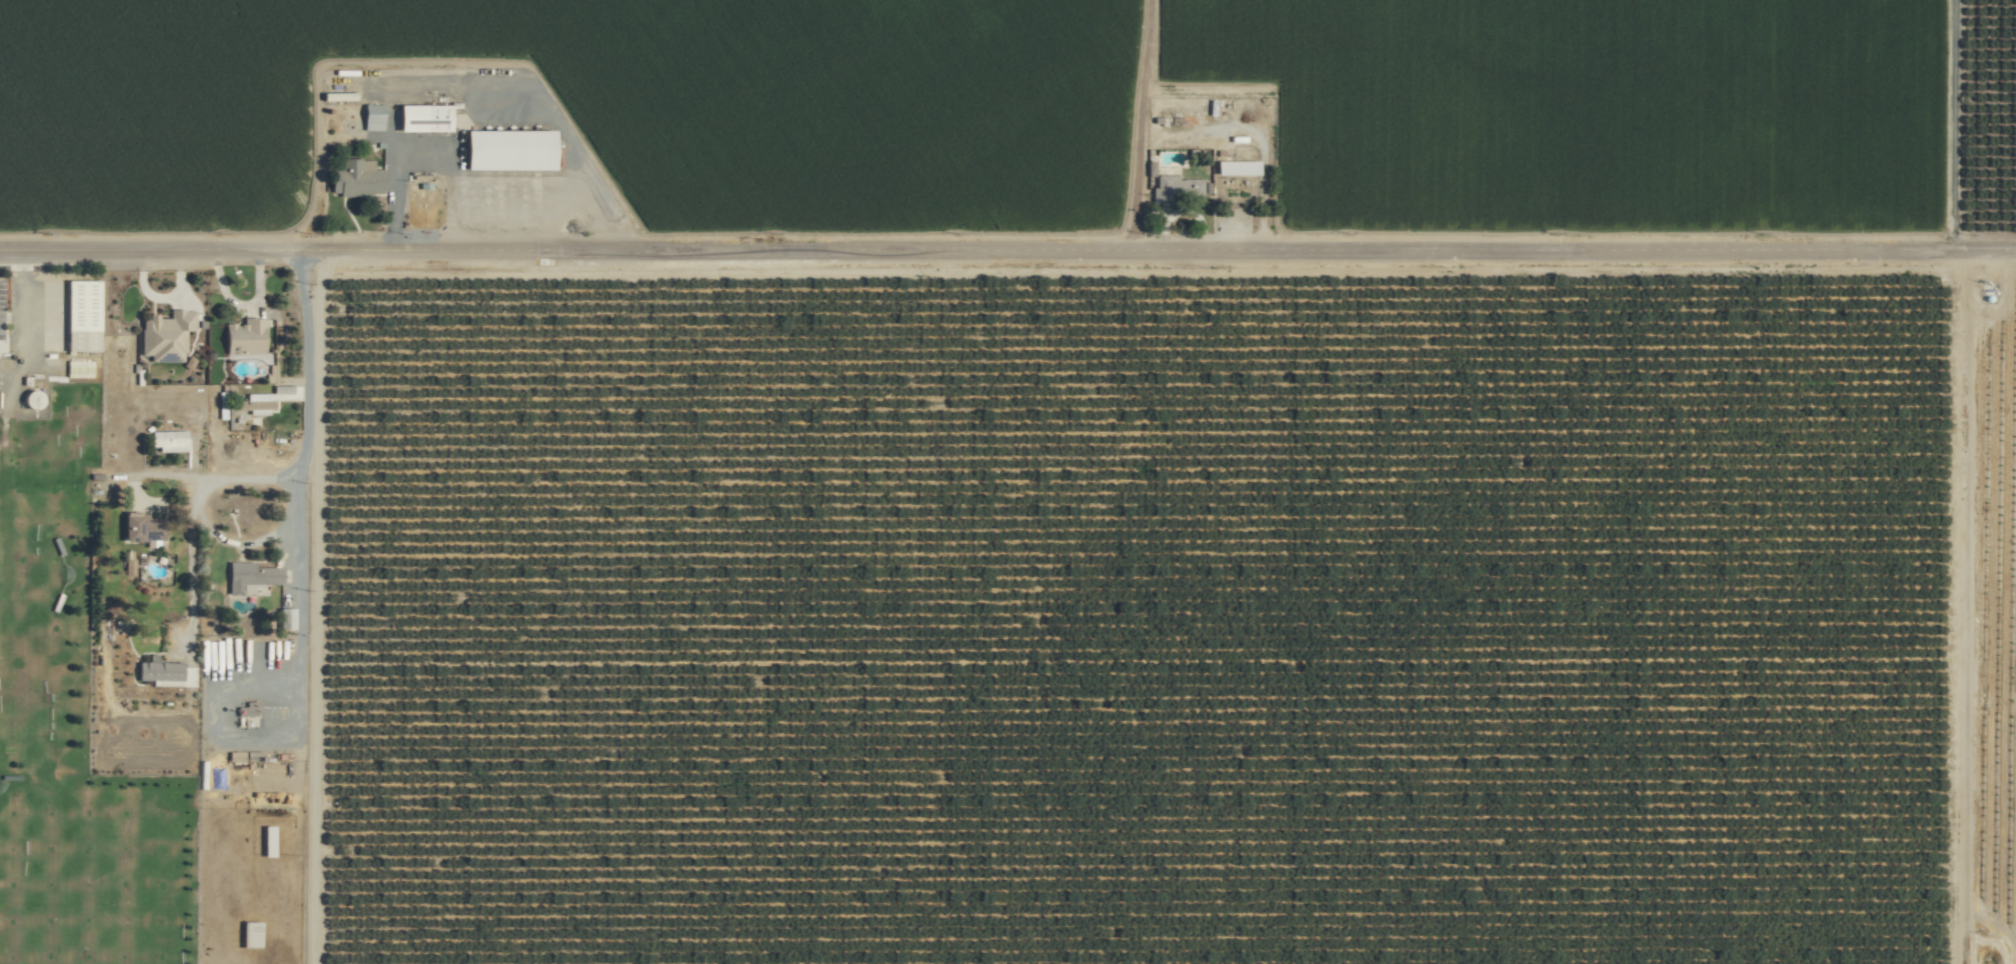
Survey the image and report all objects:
building: (374, 117)
building: (425, 117)
building: (511, 149)
road: (422, 160)
building: (1238, 167)
building: (357, 178)
building: (1176, 187)
road: (1007, 251)
road: (226, 300)
building: (83, 315)
building: (166, 334)
building: (246, 336)
building: (256, 403)
building: (169, 438)
road: (207, 483)
building: (144, 527)
building: (251, 575)
road: (297, 607)
building: (166, 672)
building: (268, 851)

